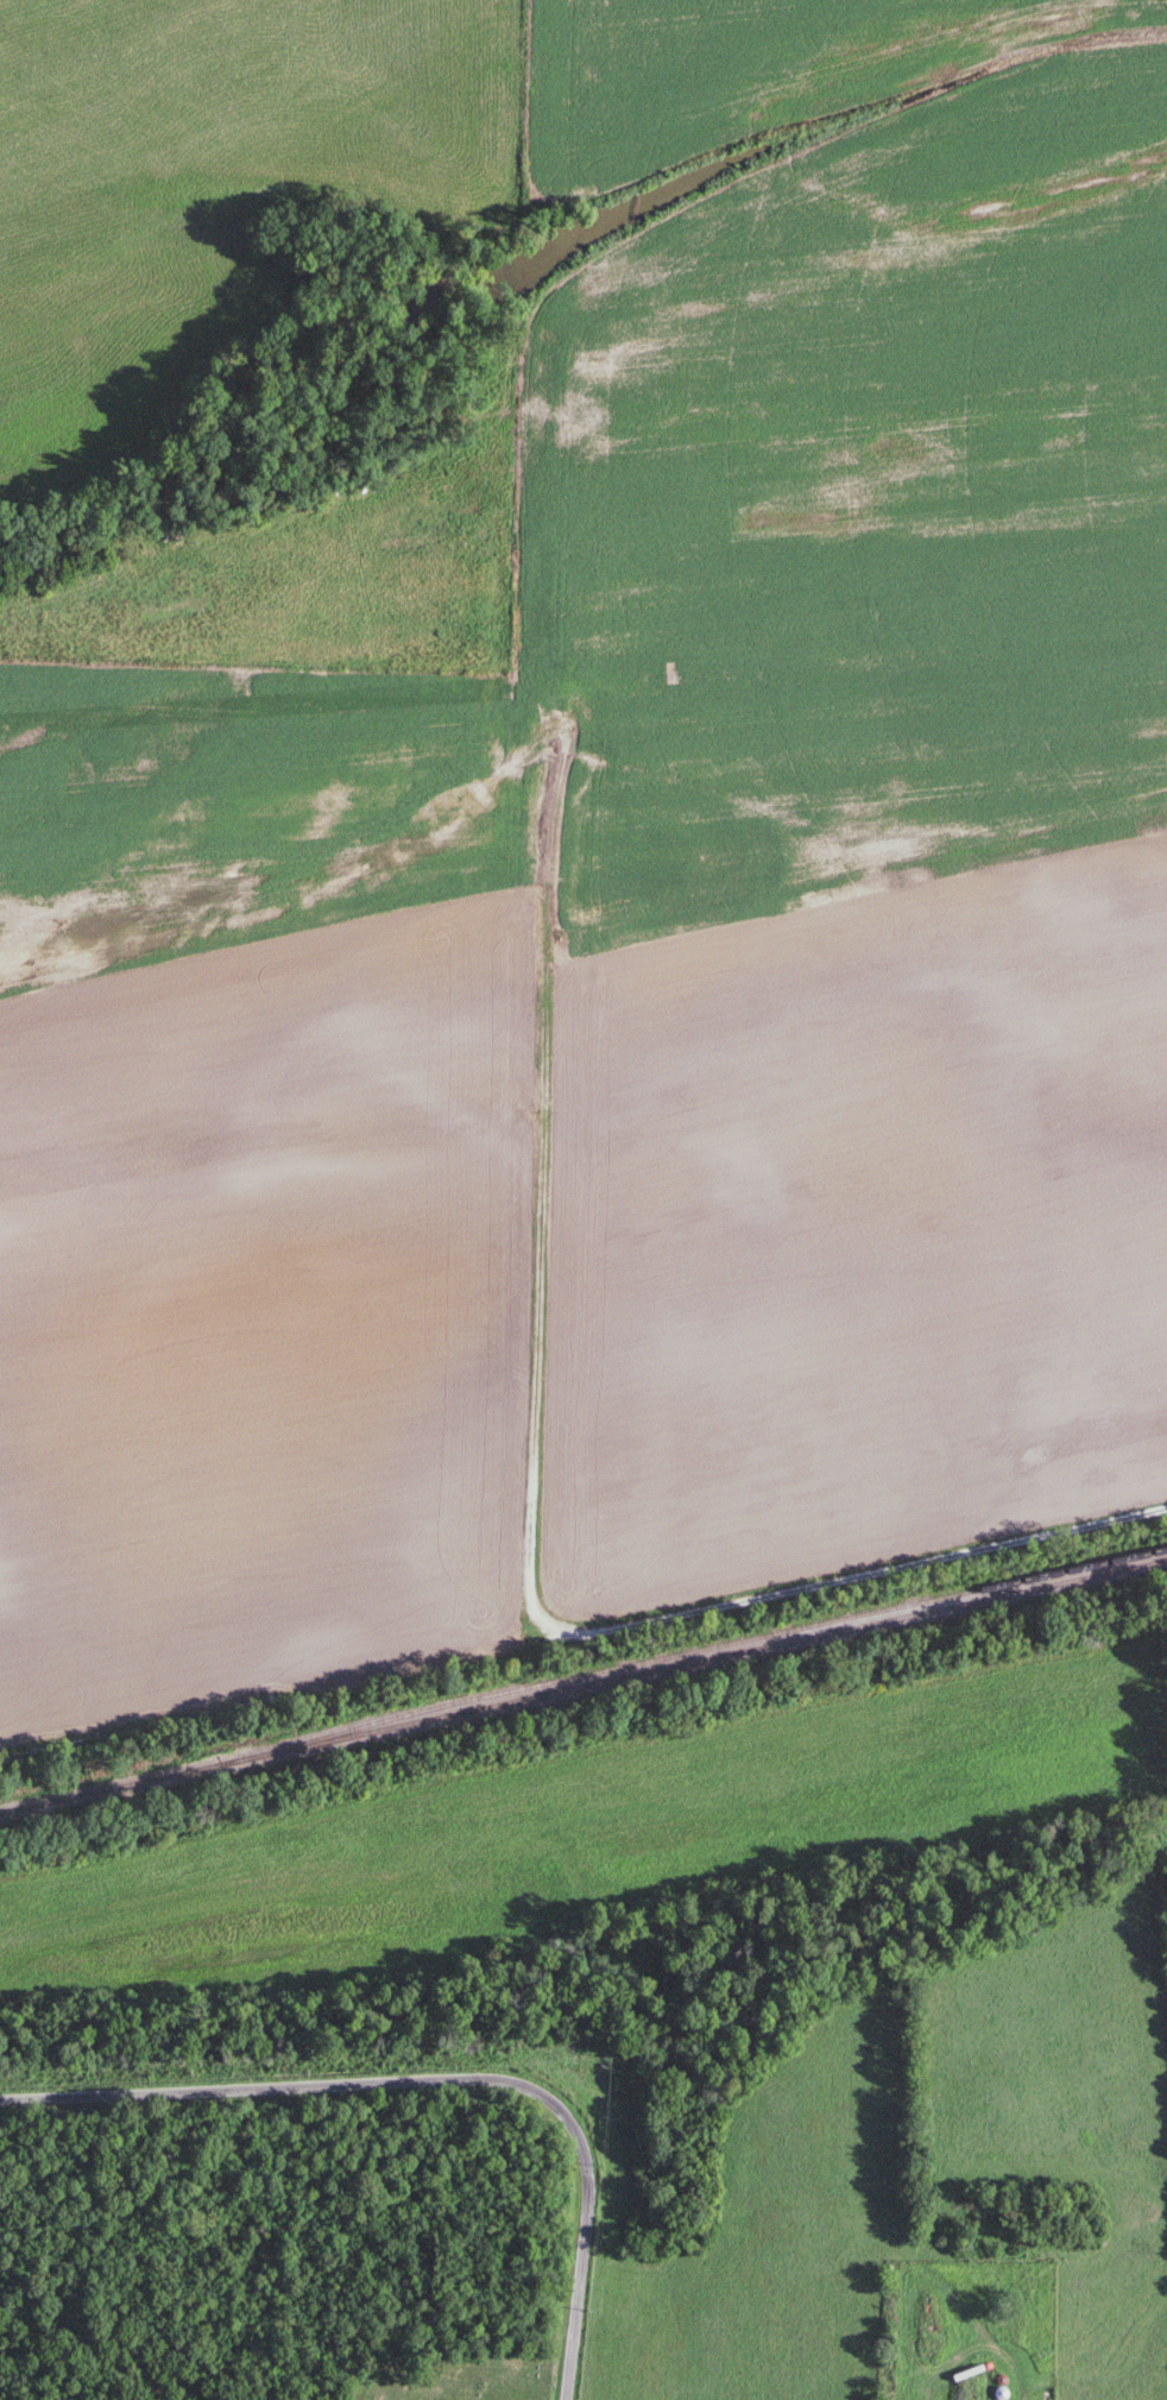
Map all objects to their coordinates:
railway: (723, 1643)
railway: (583, 1684)
road: (431, 2078)
park: (450, 2371)

